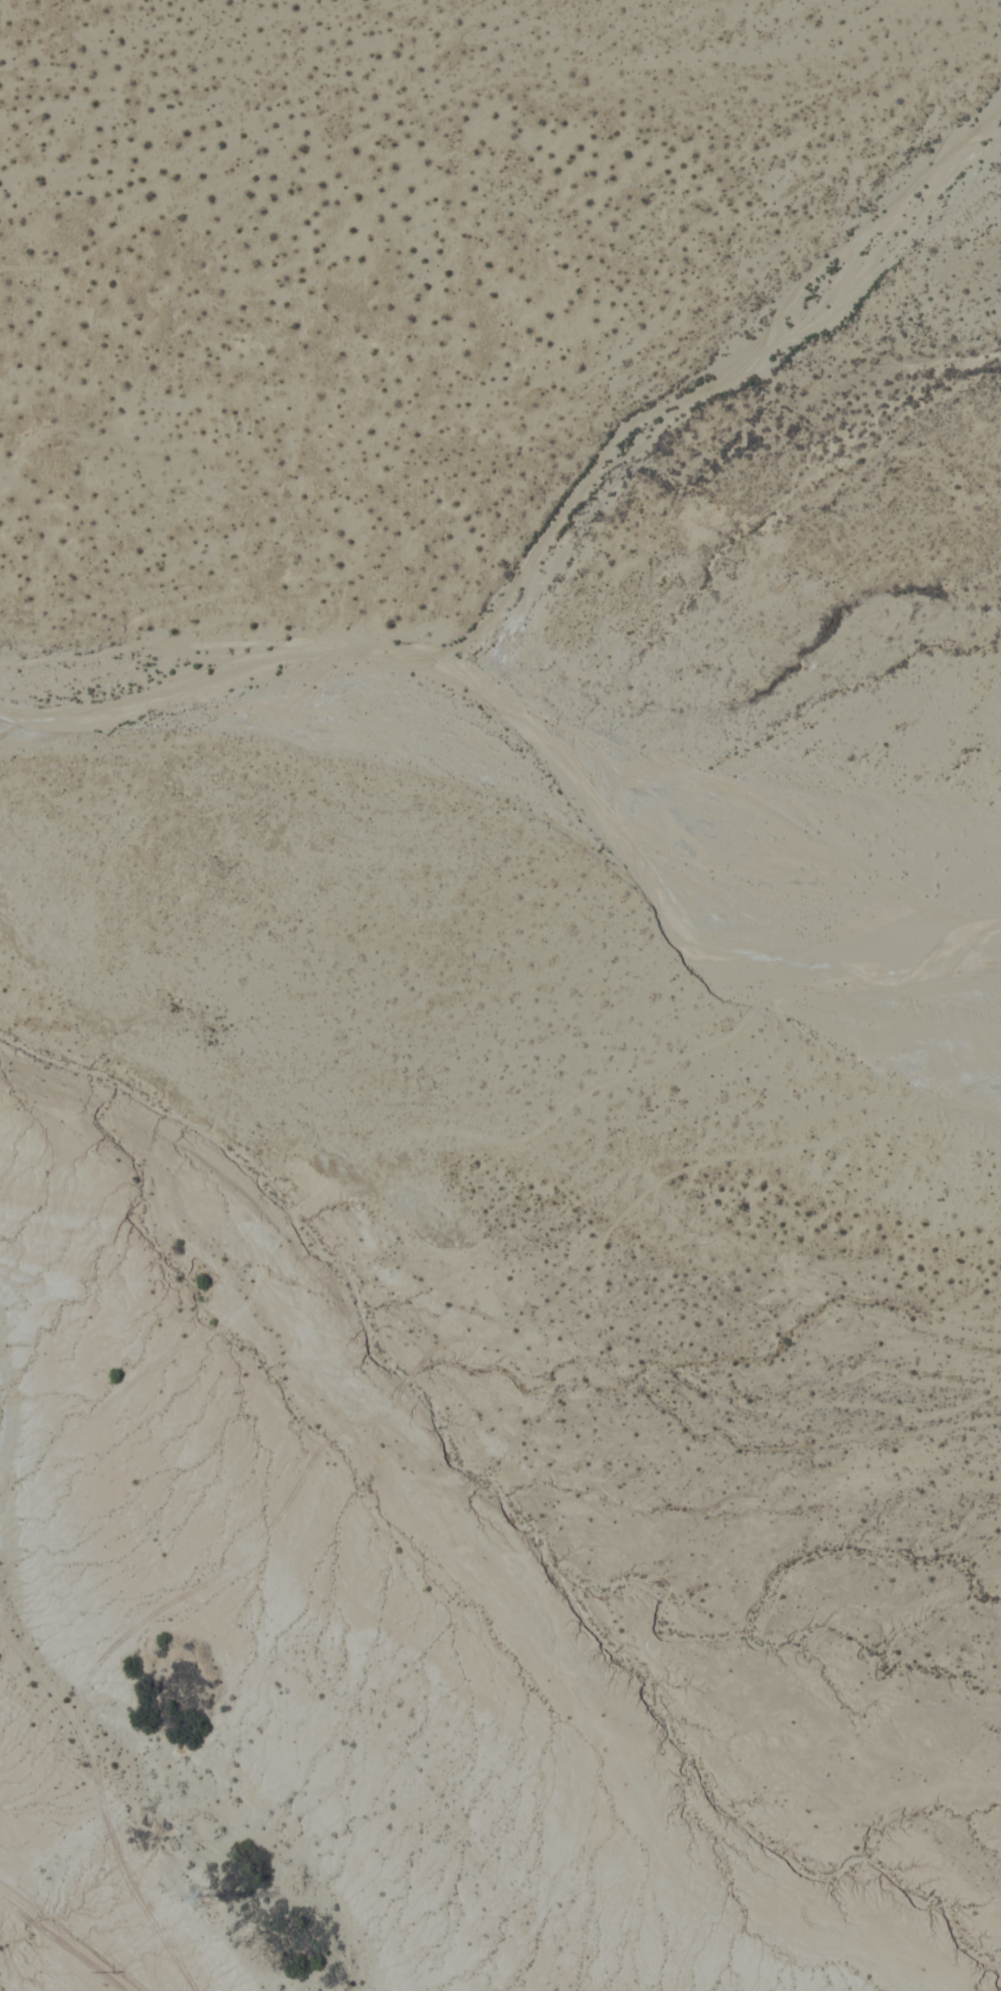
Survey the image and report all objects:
power tower: (201, 1908)

